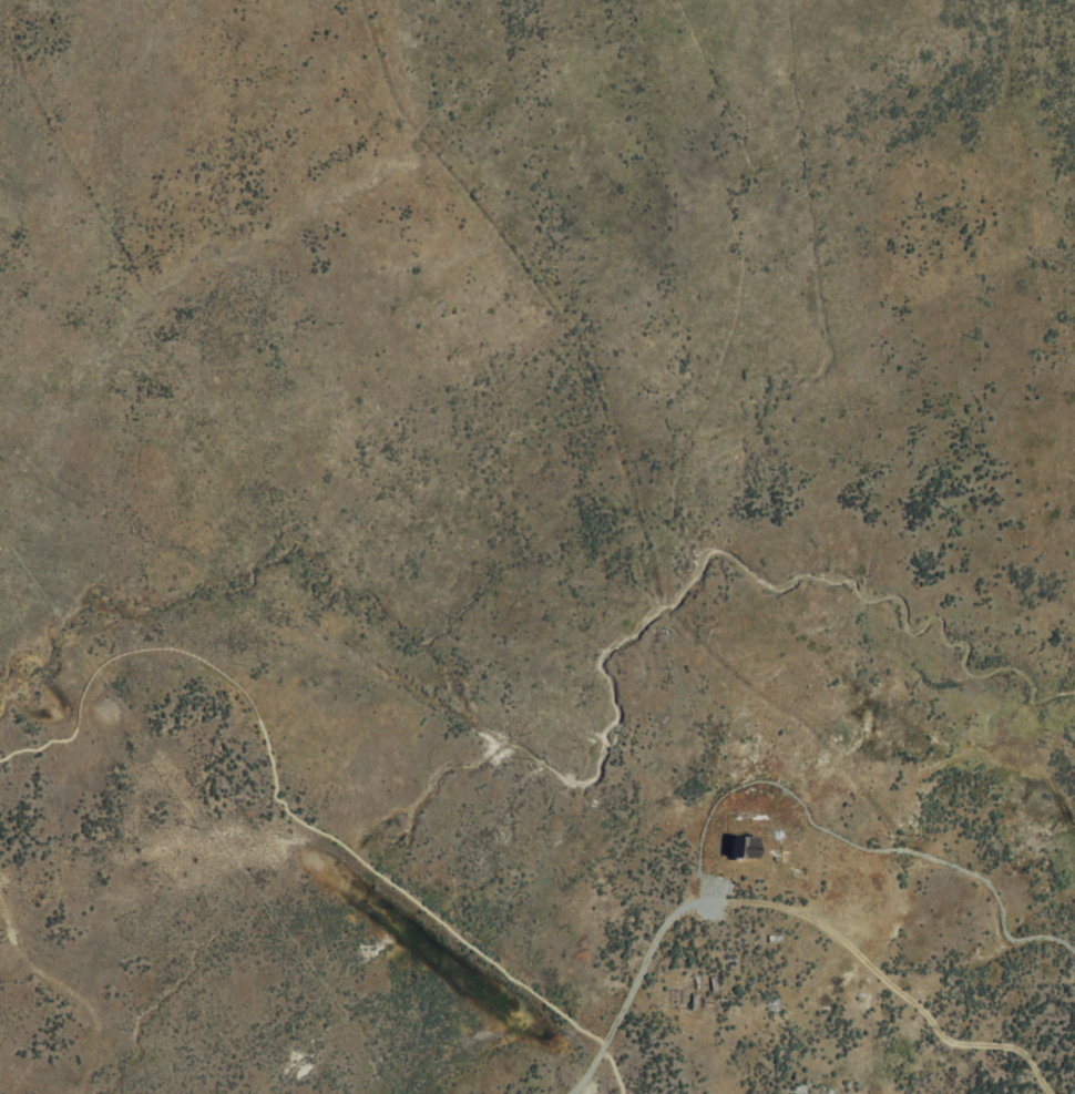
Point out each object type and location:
crop: (537, 546)
building: (739, 847)
road: (657, 931)

